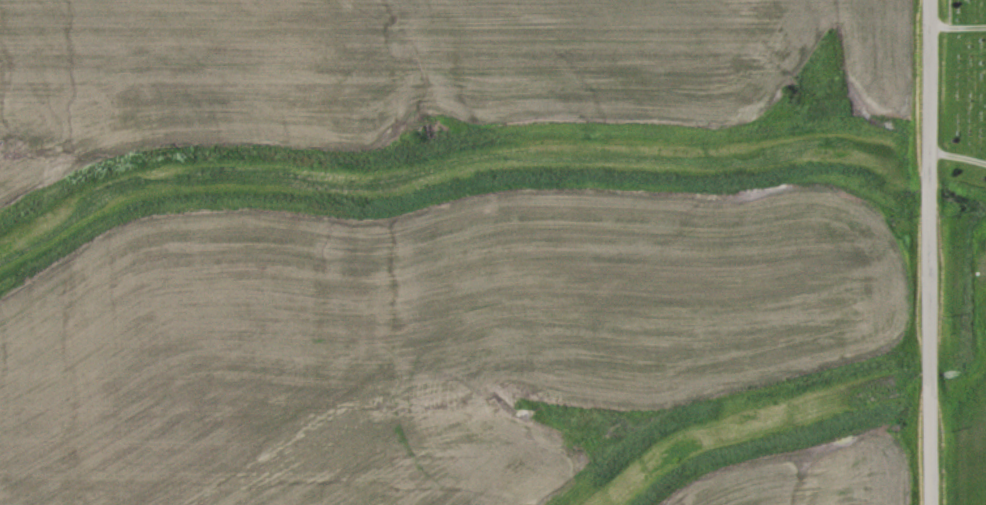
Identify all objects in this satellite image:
road: (954, 26)
park: (960, 97)
road: (954, 158)
road: (923, 252)

